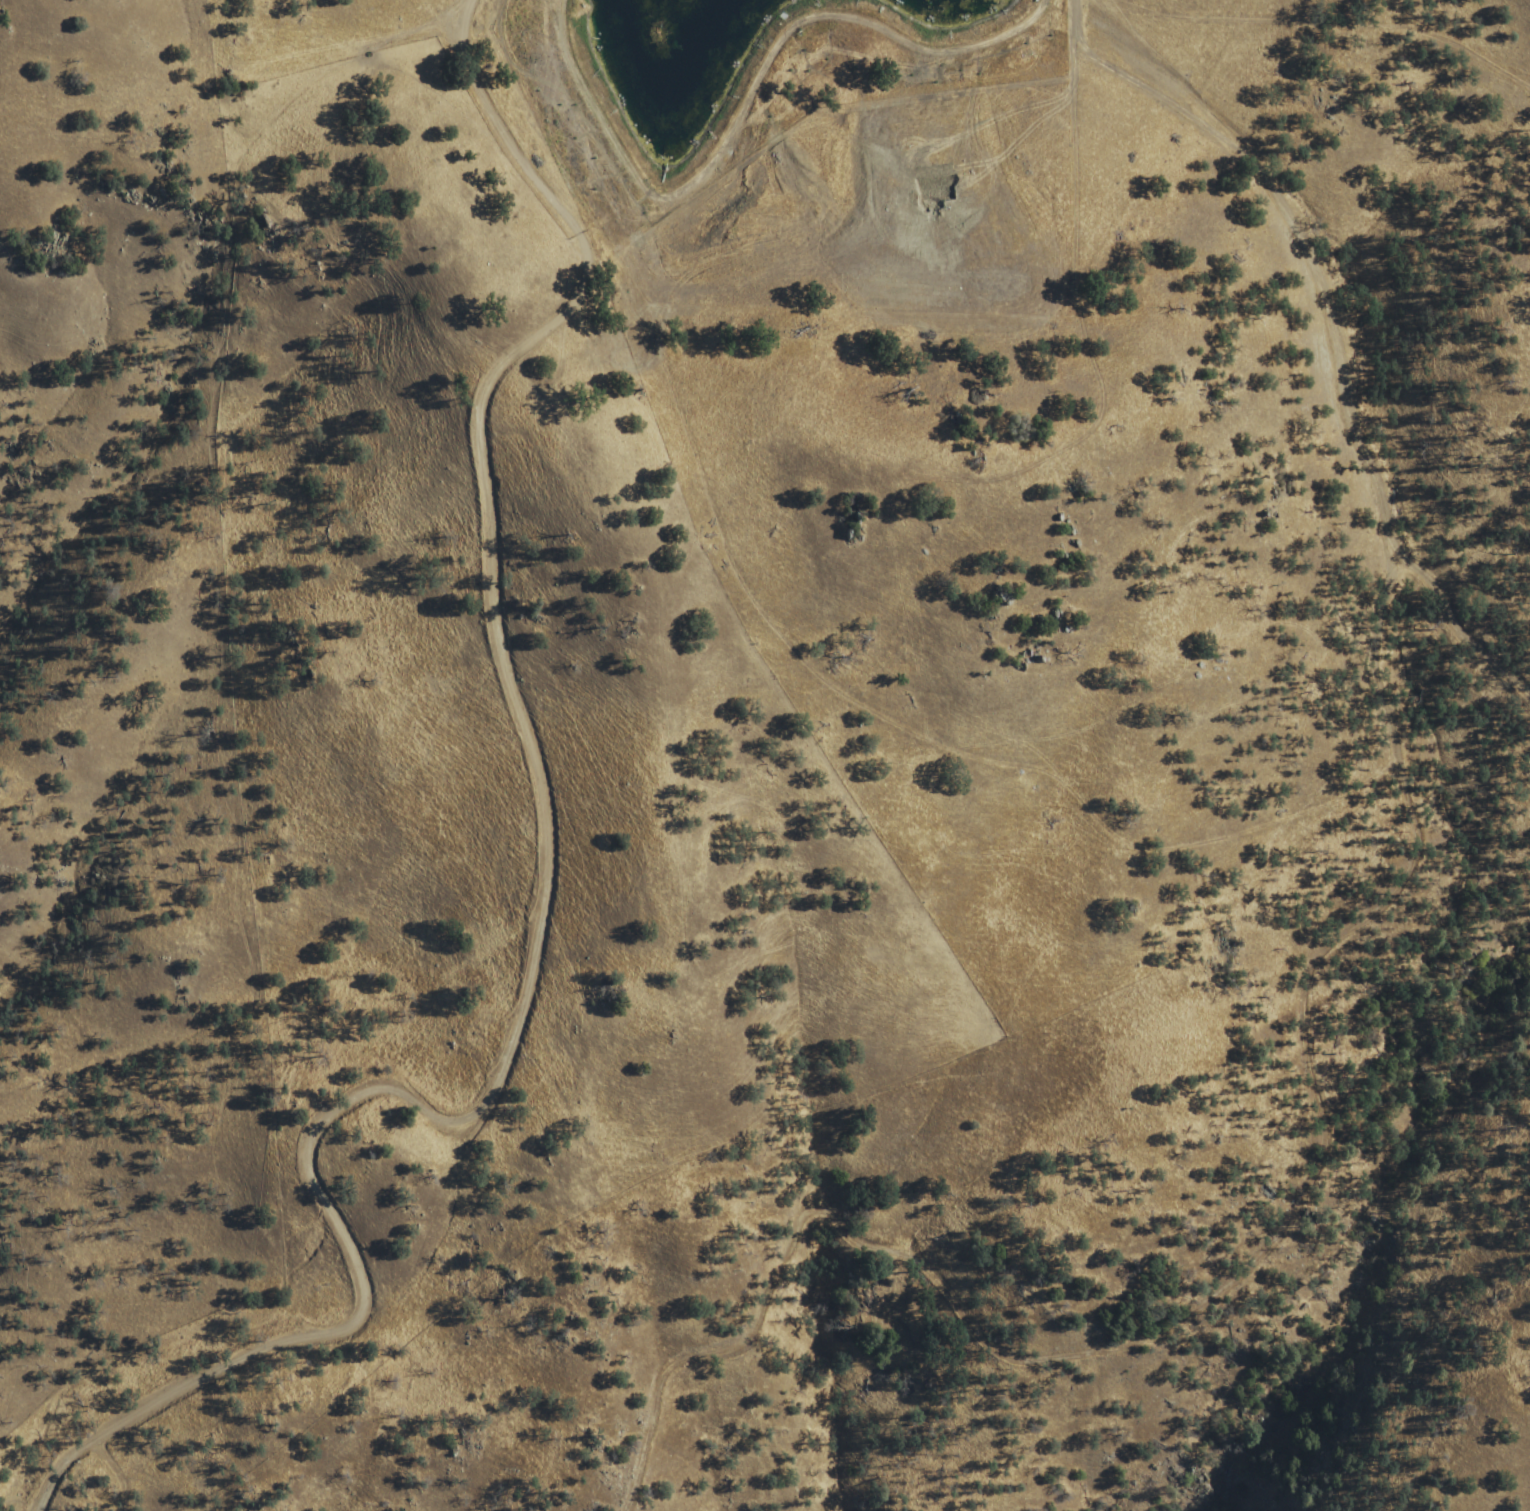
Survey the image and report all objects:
road: (1308, 258)
road: (722, 678)
road: (544, 909)
road: (1281, 1249)

